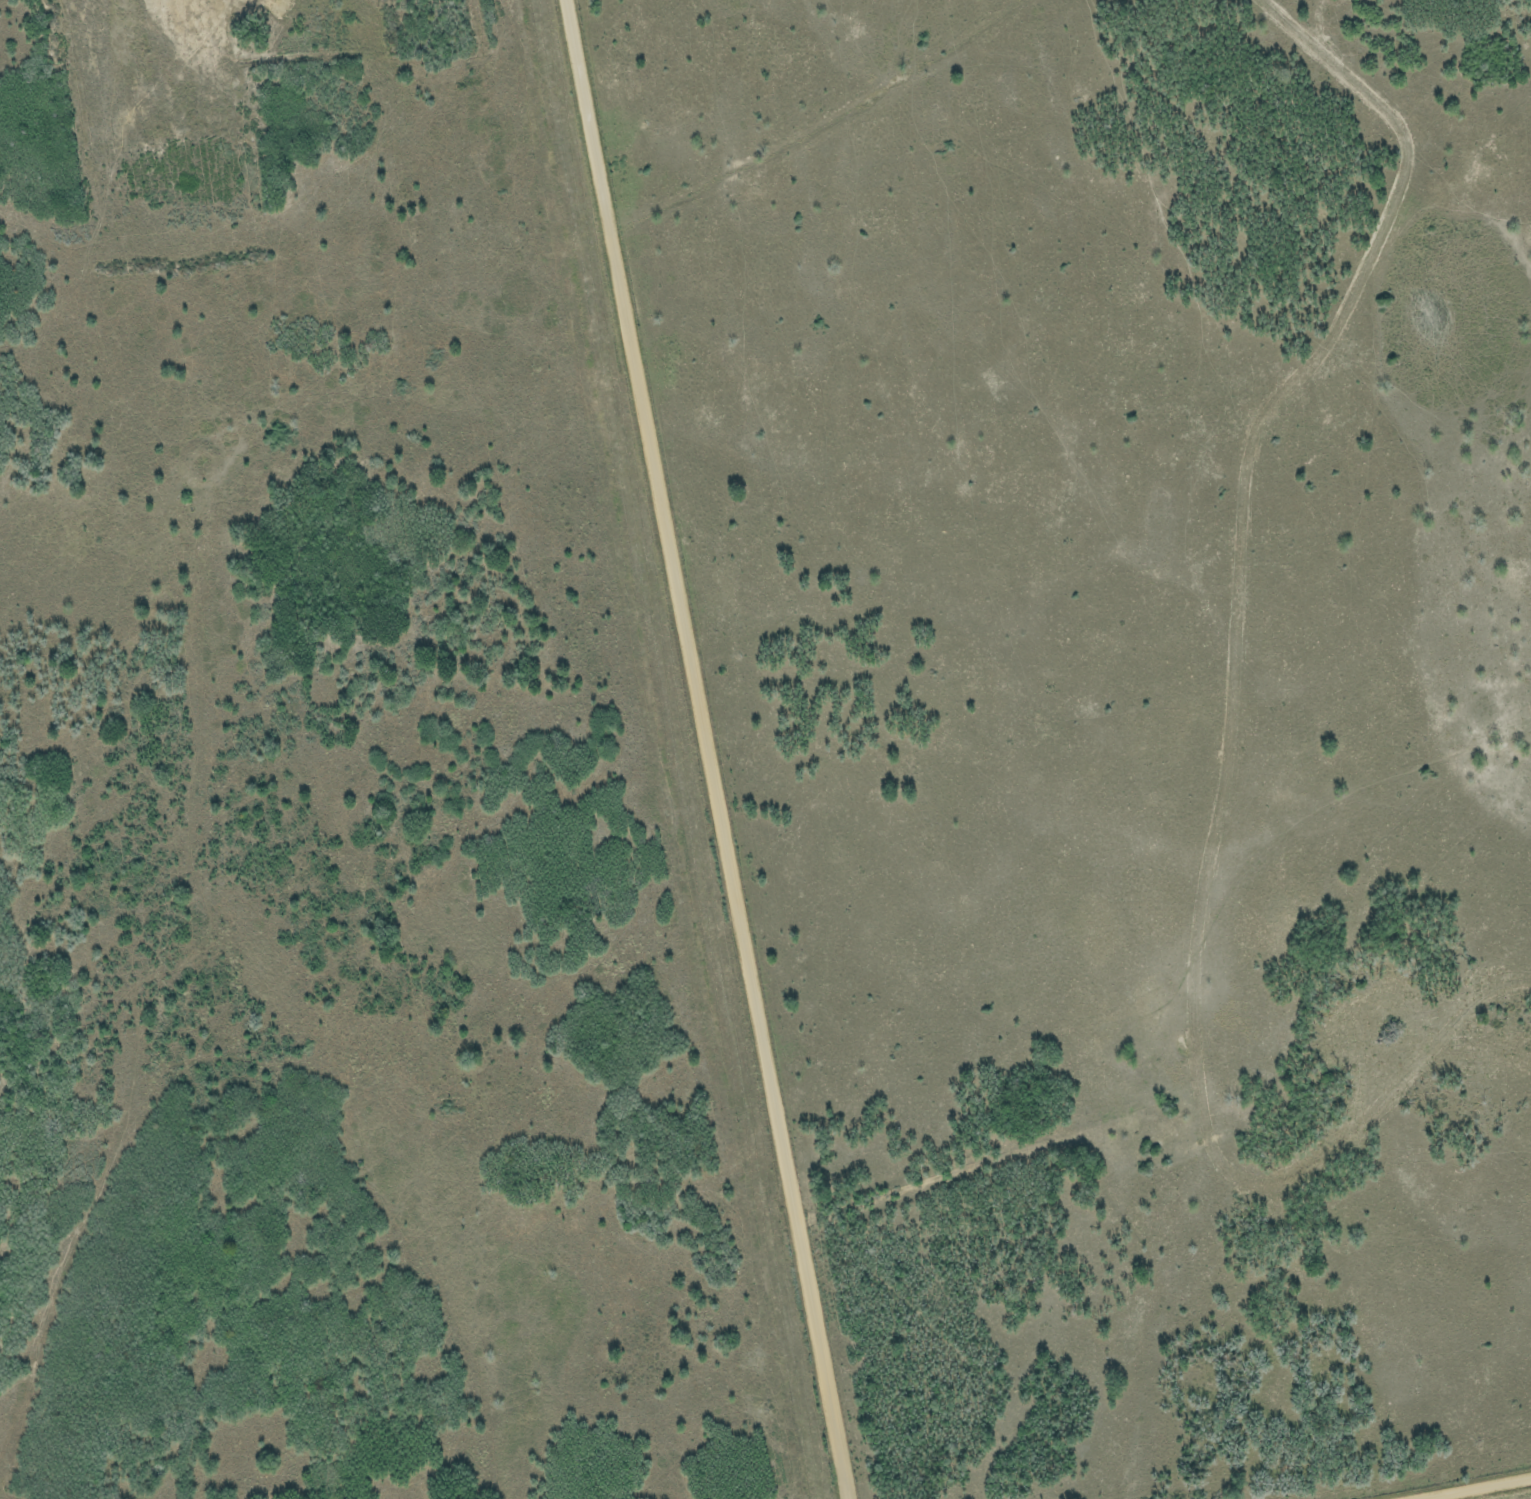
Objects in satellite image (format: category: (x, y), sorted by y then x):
road: (711, 749)
road: (1469, 1487)

